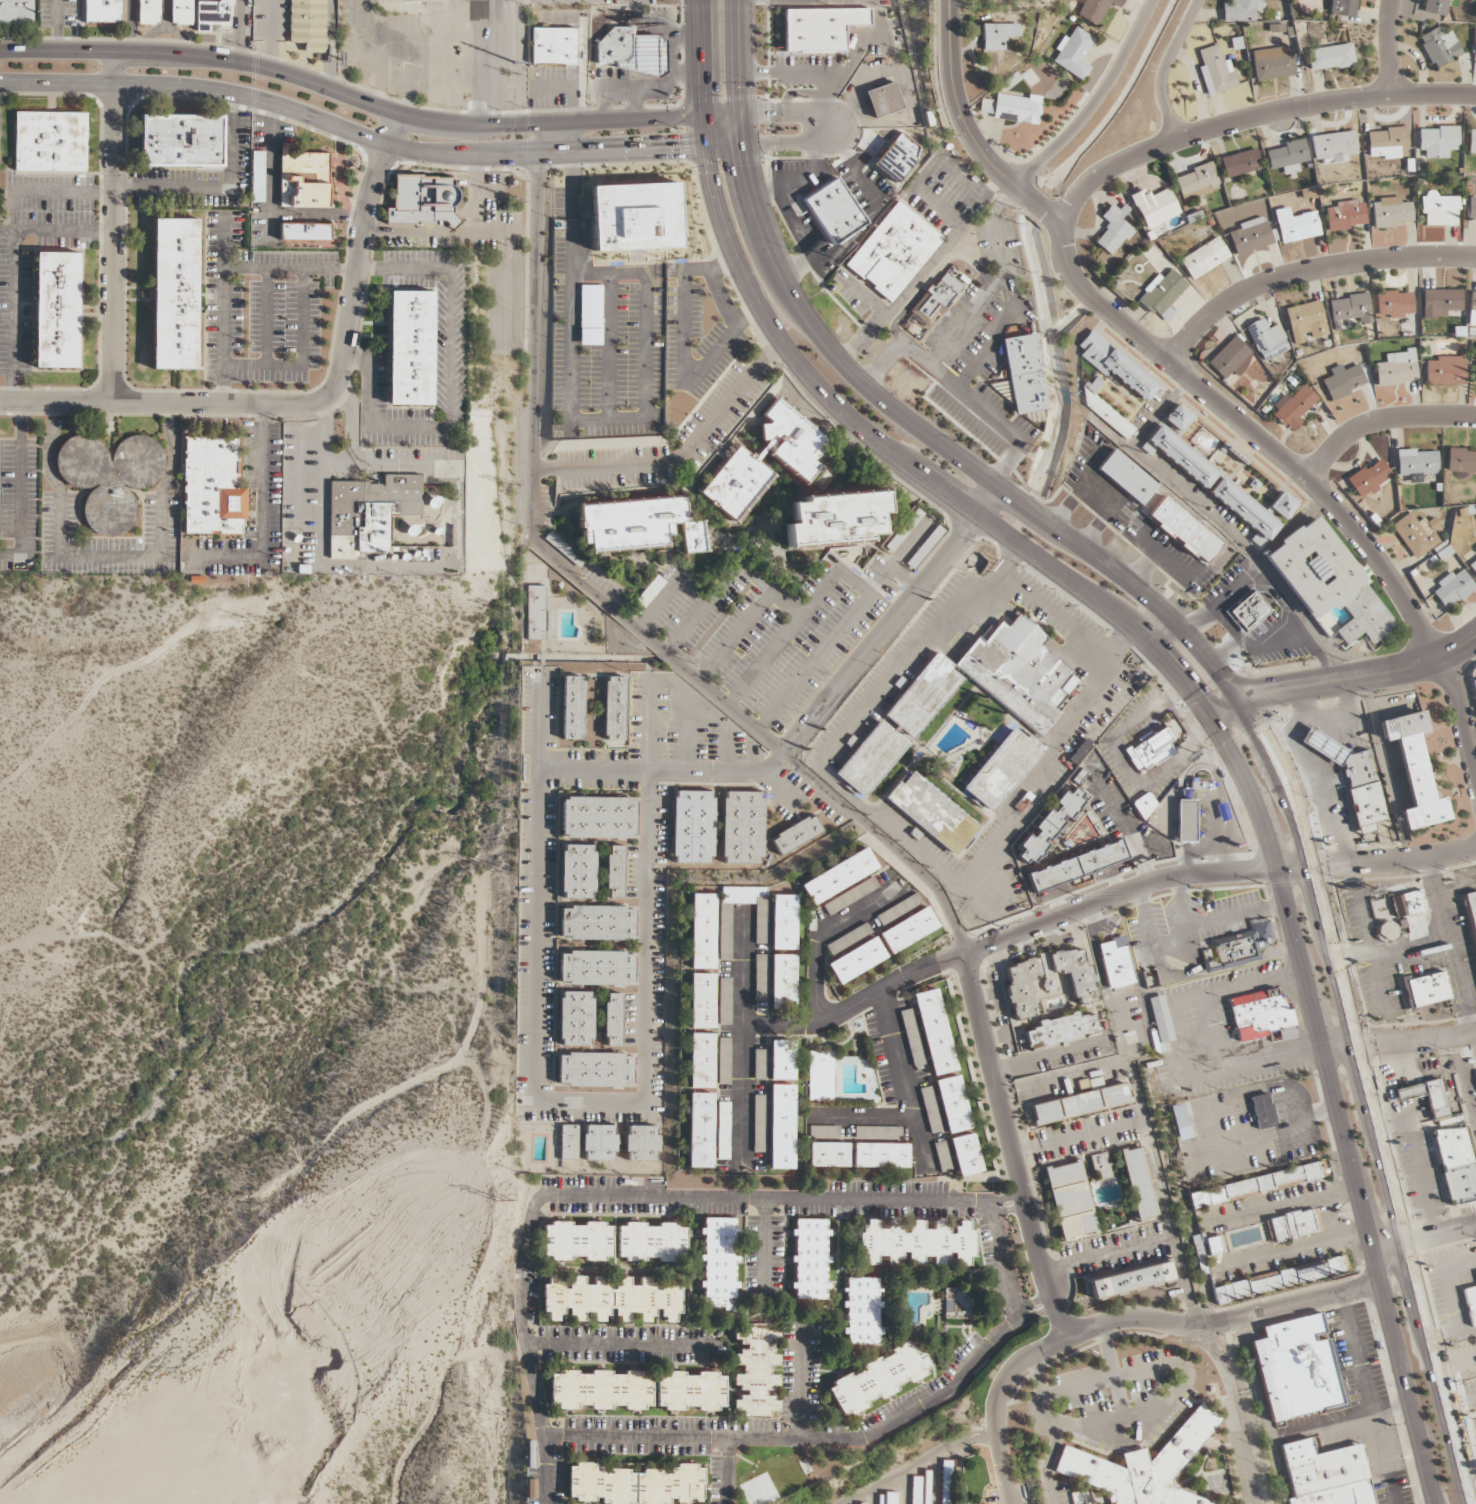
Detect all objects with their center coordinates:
building: (1434, 7)
building: (1096, 8)
building: (1344, 8)
building: (1241, 10)
building: (16, 11)
building: (103, 11)
building: (181, 11)
building: (148, 12)
building: (211, 13)
road: (331, 16)
building: (307, 24)
building: (820, 28)
road: (330, 33)
road: (271, 34)
building: (997, 36)
building: (553, 46)
road: (1390, 47)
building: (1439, 47)
building: (631, 52)
gas station: (631, 52)
building: (1073, 53)
building: (1329, 57)
road: (494, 65)
building: (1273, 66)
road: (1163, 67)
building: (1215, 71)
power tower: (512, 73)
road: (822, 73)
road: (329, 74)
traffic signals: (701, 92)
road: (825, 94)
building: (882, 99)
road: (367, 102)
road: (1094, 102)
building: (986, 107)
road: (957, 109)
building: (1017, 109)
traffic signals: (776, 114)
road: (794, 114)
road: (1251, 118)
road: (883, 135)
road: (366, 138)
building: (182, 140)
building: (50, 141)
building: (1437, 141)
building: (1472, 142)
road: (791, 143)
building: (1387, 143)
building: (1333, 146)
traffic signals: (675, 148)
building: (1287, 154)
building: (893, 162)
building: (1240, 163)
traffic signals: (741, 168)
road: (925, 173)
road: (855, 174)
building: (257, 176)
building: (303, 178)
road: (792, 179)
road: (570, 181)
building: (1196, 181)
power tower: (507, 184)
road: (39, 193)
building: (423, 200)
road: (1038, 204)
building: (1154, 207)
building: (1439, 210)
building: (1471, 210)
building: (833, 212)
building: (1390, 212)
building: (1346, 215)
building: (635, 217)
road: (1057, 219)
road: (795, 221)
building: (1296, 225)
road: (113, 226)
building: (1113, 229)
building: (305, 232)
building: (1249, 236)
building: (892, 251)
building: (1204, 258)
road: (722, 264)
road: (796, 265)
road: (13, 267)
road: (639, 272)
road: (1307, 272)
road: (913, 278)
road: (932, 278)
road: (1006, 292)
building: (175, 293)
road: (866, 295)
building: (1161, 295)
road: (721, 297)
building: (935, 300)
building: (1442, 303)
building: (1394, 304)
building: (1350, 309)
building: (1472, 309)
building: (57, 310)
building: (589, 315)
road: (963, 319)
building: (1305, 322)
road: (569, 328)
building: (1266, 339)
road: (607, 346)
building: (410, 347)
road: (533, 347)
building: (1230, 358)
road: (881, 362)
road: (846, 365)
building: (1115, 365)
building: (1397, 368)
building: (1446, 371)
road: (684, 374)
building: (1022, 374)
building: (1475, 376)
building: (1344, 381)
road: (645, 383)
road: (960, 393)
road: (311, 404)
building: (1294, 407)
building: (1105, 411)
road: (1158, 414)
building: (1178, 418)
road: (1380, 421)
road: (1120, 443)
road: (679, 454)
building: (1180, 456)
building: (794, 459)
road: (343, 461)
building: (1461, 461)
road: (1007, 463)
building: (1417, 463)
building: (109, 468)
road: (1299, 473)
building: (1127, 476)
building: (1369, 478)
power tower: (506, 484)
road: (1081, 486)
building: (212, 488)
building: (1282, 506)
road: (1111, 507)
building: (1245, 511)
building: (369, 512)
road: (263, 515)
building: (830, 518)
building: (638, 525)
building: (1184, 529)
building: (904, 530)
building: (1416, 534)
road: (434, 564)
building: (1473, 567)
road: (903, 577)
road: (729, 578)
road: (852, 581)
building: (1327, 581)
building: (1452, 589)
building: (650, 590)
road: (1273, 593)
road: (658, 600)
road: (1223, 601)
power tower: (503, 605)
building: (1247, 611)
building: (535, 612)
road: (1299, 613)
road: (888, 620)
road: (839, 627)
road: (1222, 627)
road: (735, 634)
road: (781, 639)
road: (1257, 648)
road: (1176, 673)
building: (1016, 674)
road: (1343, 678)
road: (97, 684)
building: (1474, 689)
traffic signals: (1265, 691)
traffic signals: (1192, 692)
building: (922, 695)
building: (572, 707)
building: (614, 708)
road: (649, 722)
road: (687, 731)
traffic signals: (1256, 735)
road: (759, 738)
road: (726, 748)
building: (1152, 750)
building: (871, 759)
road: (660, 769)
building: (1002, 769)
building: (1414, 770)
building: (1352, 778)
building: (1144, 805)
building: (931, 813)
building: (598, 818)
building: (1185, 821)
building: (693, 827)
building: (742, 827)
building: (1049, 827)
road: (894, 830)
building: (796, 834)
road: (63, 854)
road: (1377, 861)
building: (1076, 866)
power tower: (496, 871)
building: (576, 871)
building: (613, 871)
building: (837, 876)
road: (537, 887)
road: (1458, 888)
building: (848, 896)
road: (1117, 897)
building: (1403, 905)
building: (896, 909)
building: (1470, 915)
building: (782, 922)
building: (597, 923)
building: (724, 924)
building: (906, 930)
building: (701, 931)
road: (93, 935)
road: (646, 937)
building: (846, 939)
road: (1449, 945)
building: (1237, 948)
road: (1410, 949)
road: (1352, 954)
road: (1371, 954)
building: (854, 960)
building: (1117, 965)
building: (596, 968)
road: (479, 971)
building: (1074, 972)
building: (759, 978)
building: (782, 982)
building: (1021, 987)
road: (15, 990)
building: (1424, 990)
building: (700, 1000)
building: (723, 1002)
road: (820, 1011)
building: (1259, 1017)
building: (575, 1018)
building: (612, 1019)
building: (1160, 1019)
road: (784, 1028)
building: (1060, 1029)
building: (933, 1032)
road: (739, 1036)
building: (911, 1038)
road: (1352, 1038)
road: (1399, 1042)
building: (781, 1060)
building: (700, 1061)
building: (722, 1061)
building: (758, 1064)
building: (595, 1070)
building: (1475, 1074)
building: (820, 1076)
road: (1463, 1086)
building: (1427, 1097)
road: (909, 1102)
building: (1081, 1102)
building: (951, 1104)
road: (589, 1105)
building: (929, 1109)
building: (1261, 1111)
road: (1150, 1119)
building: (1179, 1122)
building: (757, 1123)
building: (780, 1127)
building: (698, 1130)
building: (721, 1131)
building: (823, 1132)
building: (876, 1133)
building: (568, 1142)
building: (599, 1143)
building: (641, 1143)
road: (1012, 1146)
building: (964, 1154)
building: (828, 1155)
building: (880, 1155)
building: (941, 1156)
building: (1456, 1164)
building: (1100, 1166)
building: (1137, 1183)
building: (1254, 1186)
road: (283, 1198)
building: (1069, 1200)
road: (1015, 1201)
power tower: (496, 1202)
road: (772, 1202)
road: (1000, 1203)
road: (1024, 1205)
road: (1018, 1211)
road: (1001, 1214)
building: (1292, 1226)
road: (1421, 1239)
building: (577, 1241)
building: (650, 1241)
building: (916, 1244)
building: (1204, 1250)
road: (1112, 1251)
building: (809, 1259)
building: (717, 1263)
building: (1279, 1279)
building: (1130, 1280)
road: (463, 1282)
building: (609, 1300)
building: (1470, 1303)
building: (955, 1304)
road: (1050, 1306)
road: (1047, 1308)
building: (861, 1311)
road: (1023, 1314)
road: (1221, 1321)
road: (613, 1348)
building: (1297, 1368)
building: (755, 1369)
road: (1008, 1375)
building: (877, 1377)
road: (1185, 1377)
building: (600, 1390)
building: (690, 1391)
road: (1461, 1401)
road: (1237, 1411)
power tower: (492, 1414)
road: (1098, 1421)
road: (1465, 1438)
road: (683, 1441)
road: (918, 1463)
road: (1047, 1463)
building: (1141, 1466)
road: (1005, 1469)
road: (549, 1471)
road: (729, 1473)
building: (1325, 1475)
park: (777, 1479)
building: (946, 1482)
building: (633, 1484)
building: (919, 1489)
building: (886, 1498)
building: (858, 1503)

